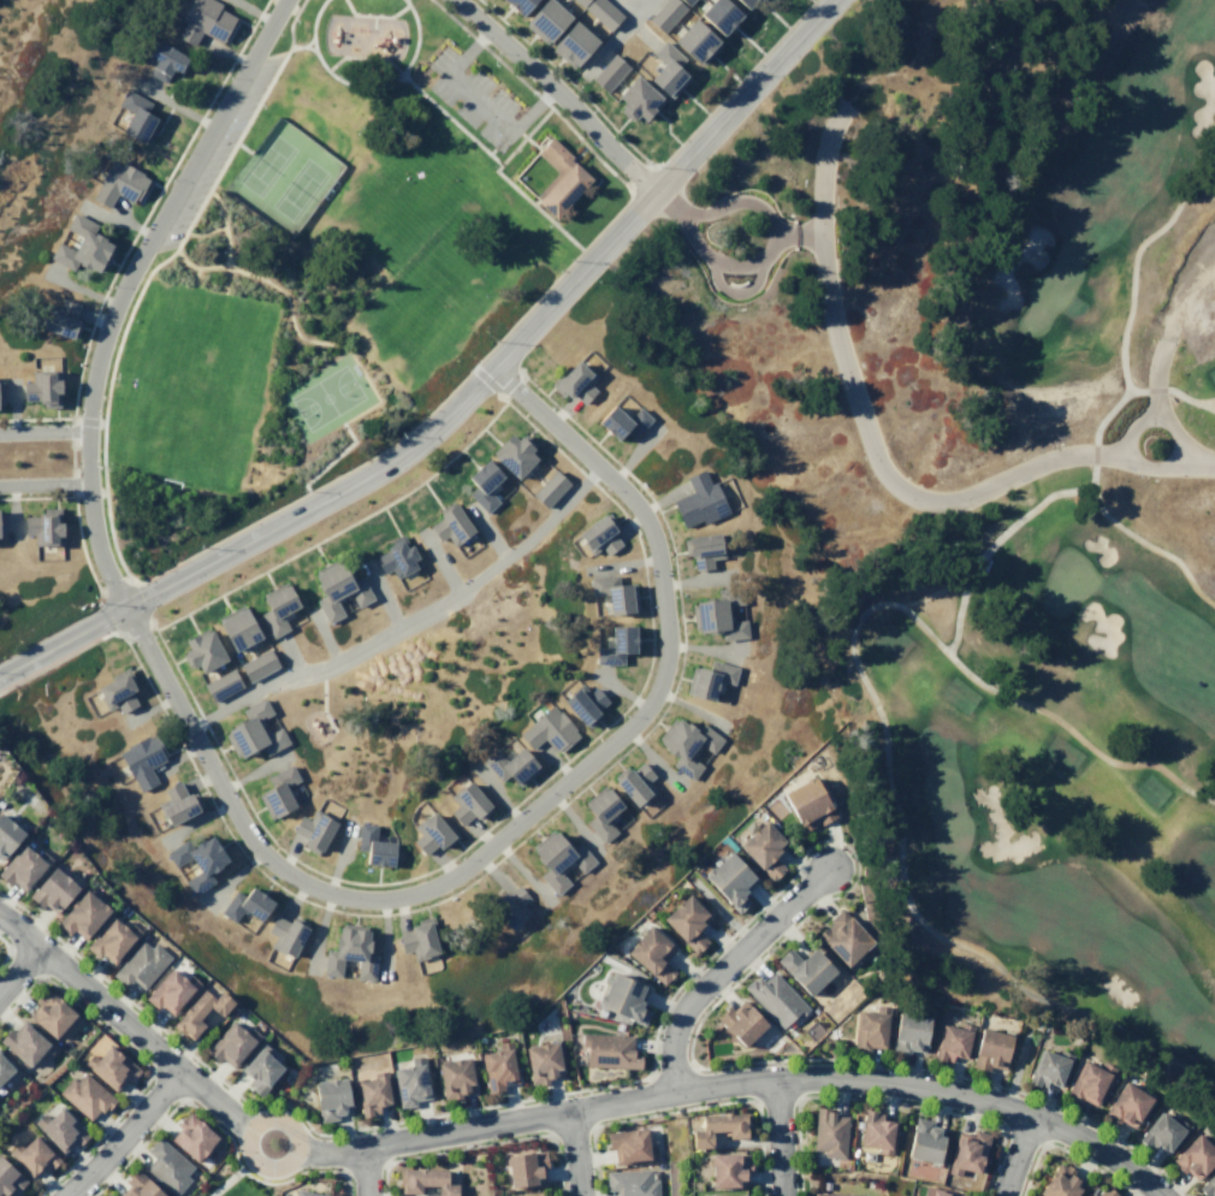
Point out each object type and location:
building: (579, 1)
building: (684, 1)
building: (743, 2)
building: (517, 5)
building: (601, 12)
road: (634, 13)
building: (665, 13)
road: (373, 14)
building: (718, 14)
building: (544, 19)
building: (202, 20)
road: (308, 41)
building: (695, 41)
building: (570, 43)
road: (609, 45)
road: (295, 46)
road: (309, 48)
road: (468, 51)
road: (362, 57)
building: (162, 59)
building: (666, 70)
building: (607, 71)
road: (567, 78)
road: (363, 85)
road: (733, 87)
road: (558, 91)
parking lot: (472, 96)
building: (635, 99)
road: (480, 100)
road: (531, 106)
road: (202, 113)
building: (137, 117)
road: (449, 118)
road: (523, 135)
road: (533, 144)
parking lot: (220, 148)
road: (576, 152)
park: (283, 172)
road: (636, 173)
building: (557, 178)
building: (118, 183)
road: (666, 201)
road: (734, 202)
road: (534, 207)
road: (221, 226)
road: (1157, 229)
road: (799, 233)
building: (83, 245)
road: (275, 257)
road: (183, 260)
road: (722, 262)
park: (337, 271)
road: (194, 274)
park: (1050, 286)
road: (93, 318)
building: (61, 319)
park: (982, 321)
road: (306, 339)
road: (1121, 353)
road: (1154, 378)
road: (485, 379)
building: (573, 381)
park: (192, 383)
road: (509, 383)
building: (43, 387)
road: (1154, 389)
building: (1, 393)
road: (498, 395)
park: (325, 397)
road: (463, 397)
road: (502, 397)
road: (1190, 399)
road: (1203, 401)
road: (1110, 408)
road: (860, 415)
road: (36, 416)
road: (88, 418)
building: (621, 421)
road: (71, 430)
road: (43, 431)
road: (1177, 450)
building: (512, 452)
road: (1092, 454)
road: (71, 457)
road: (332, 457)
road: (1195, 461)
road: (43, 482)
road: (72, 482)
building: (481, 484)
building: (549, 487)
road: (36, 496)
building: (698, 501)
road: (256, 520)
building: (449, 525)
building: (1, 526)
building: (45, 526)
building: (598, 534)
road: (1140, 541)
road: (991, 544)
road: (81, 545)
building: (701, 549)
building: (396, 557)
park: (1066, 580)
road: (113, 585)
building: (337, 588)
building: (614, 593)
building: (275, 609)
building: (718, 614)
road: (410, 622)
road: (152, 623)
road: (136, 628)
building: (236, 628)
building: (615, 645)
building: (200, 651)
building: (256, 664)
building: (707, 677)
building: (220, 685)
building: (115, 689)
road: (322, 700)
building: (582, 704)
park: (316, 726)
road: (883, 727)
building: (253, 730)
building: (549, 730)
building: (686, 745)
building: (141, 759)
building: (509, 765)
building: (634, 782)
building: (275, 791)
building: (177, 801)
building: (467, 804)
building: (806, 804)
park: (944, 811)
building: (600, 813)
road: (243, 827)
building: (312, 830)
building: (431, 833)
building: (6, 835)
park: (1032, 835)
road: (830, 840)
building: (372, 845)
road: (511, 846)
building: (761, 849)
building: (196, 860)
building: (557, 860)
building: (22, 866)
road: (326, 876)
building: (728, 881)
building: (51, 889)
building: (244, 904)
building: (509, 905)
building: (79, 914)
building: (684, 920)
building: (284, 935)
building: (842, 937)
building: (417, 939)
building: (111, 940)
road: (5, 949)
building: (349, 953)
building: (650, 953)
building: (140, 964)
road: (723, 967)
road: (18, 969)
building: (805, 969)
building: (170, 990)
building: (622, 996)
building: (775, 999)
building: (196, 1011)
building: (51, 1013)
building: (740, 1022)
road: (124, 1023)
building: (869, 1029)
building: (907, 1032)
building: (26, 1042)
building: (952, 1042)
building: (230, 1043)
building: (989, 1049)
building: (607, 1050)
road: (137, 1058)
road: (823, 1059)
building: (540, 1061)
building: (111, 1066)
building: (498, 1066)
building: (1047, 1067)
building: (259, 1068)
road: (1017, 1068)
building: (6, 1070)
building: (452, 1077)
building: (409, 1082)
road: (740, 1082)
building: (1087, 1083)
building: (372, 1091)
building: (87, 1094)
building: (330, 1097)
road: (887, 1101)
road: (710, 1105)
building: (1126, 1105)
road: (411, 1118)
building: (718, 1126)
building: (61, 1129)
building: (828, 1132)
building: (876, 1132)
building: (1161, 1132)
road: (121, 1133)
building: (189, 1136)
road: (778, 1137)
building: (924, 1141)
road: (140, 1144)
road: (481, 1144)
building: (628, 1145)
road: (575, 1153)
building: (967, 1153)
road: (248, 1154)
building: (35, 1155)
road: (1015, 1155)
building: (1195, 1156)
building: (165, 1165)
building: (523, 1167)
building: (727, 1168)
road: (364, 1171)
building: (10, 1178)
park: (231, 1180)
road: (261, 1180)
building: (422, 1180)
road: (224, 1182)
building: (1059, 1182)
building: (630, 1183)
building: (1208, 1185)
building: (137, 1186)
building: (306, 1192)
building: (940, 1192)
building: (1103, 1192)
building: (829, 1194)
road: (37, 1195)
building: (105, 1195)
building: (518, 1195)
building: (715, 1195)

